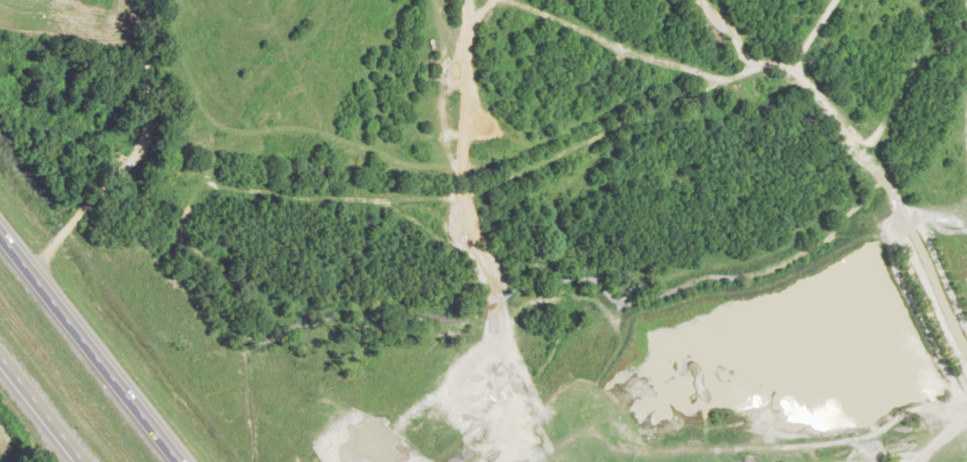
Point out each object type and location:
building: (768, 94)
road: (90, 346)
road: (42, 408)

